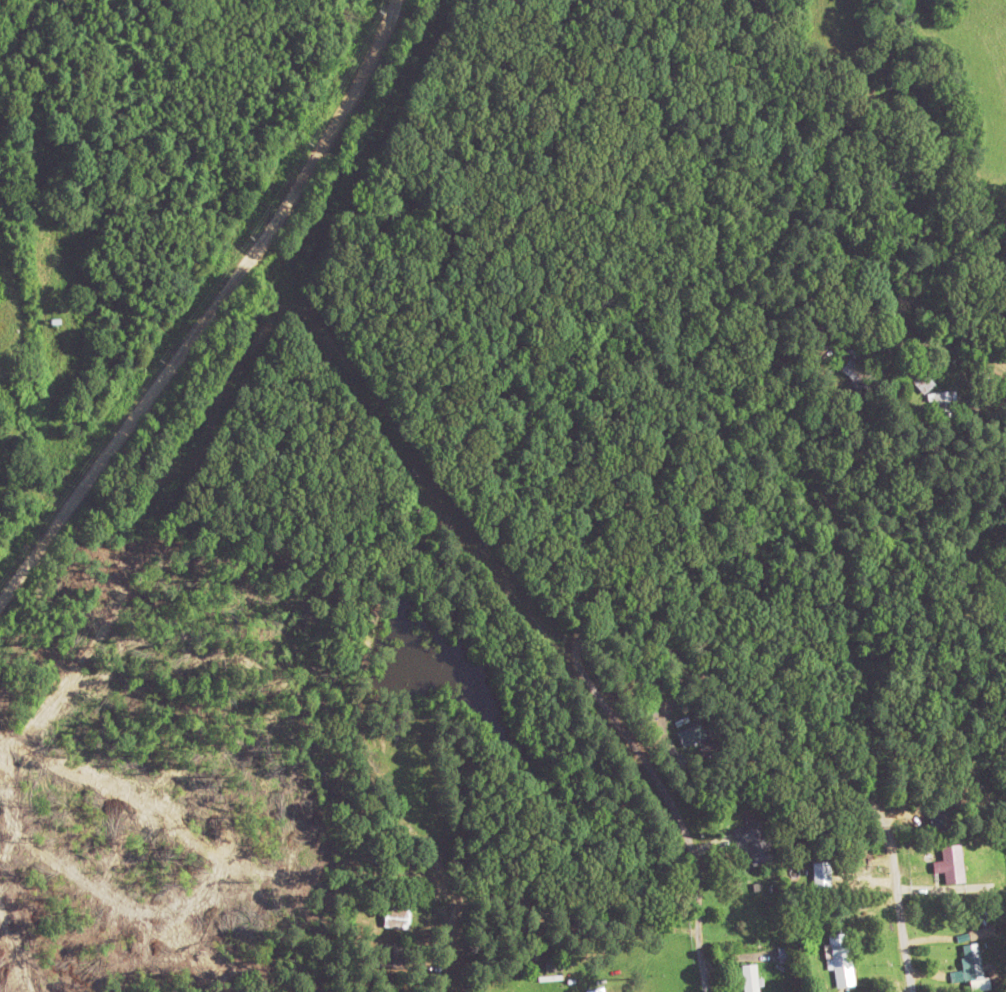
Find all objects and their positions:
road: (213, 311)
road: (918, 314)
road: (636, 366)
building: (859, 374)
building: (924, 382)
building: (942, 399)
building: (993, 620)
building: (691, 734)
road: (807, 754)
road: (672, 809)
building: (939, 820)
building: (753, 841)
building: (822, 876)
building: (933, 885)
building: (397, 916)
building: (981, 931)
building: (841, 958)
building: (972, 960)
building: (554, 962)
building: (750, 977)
building: (598, 989)

